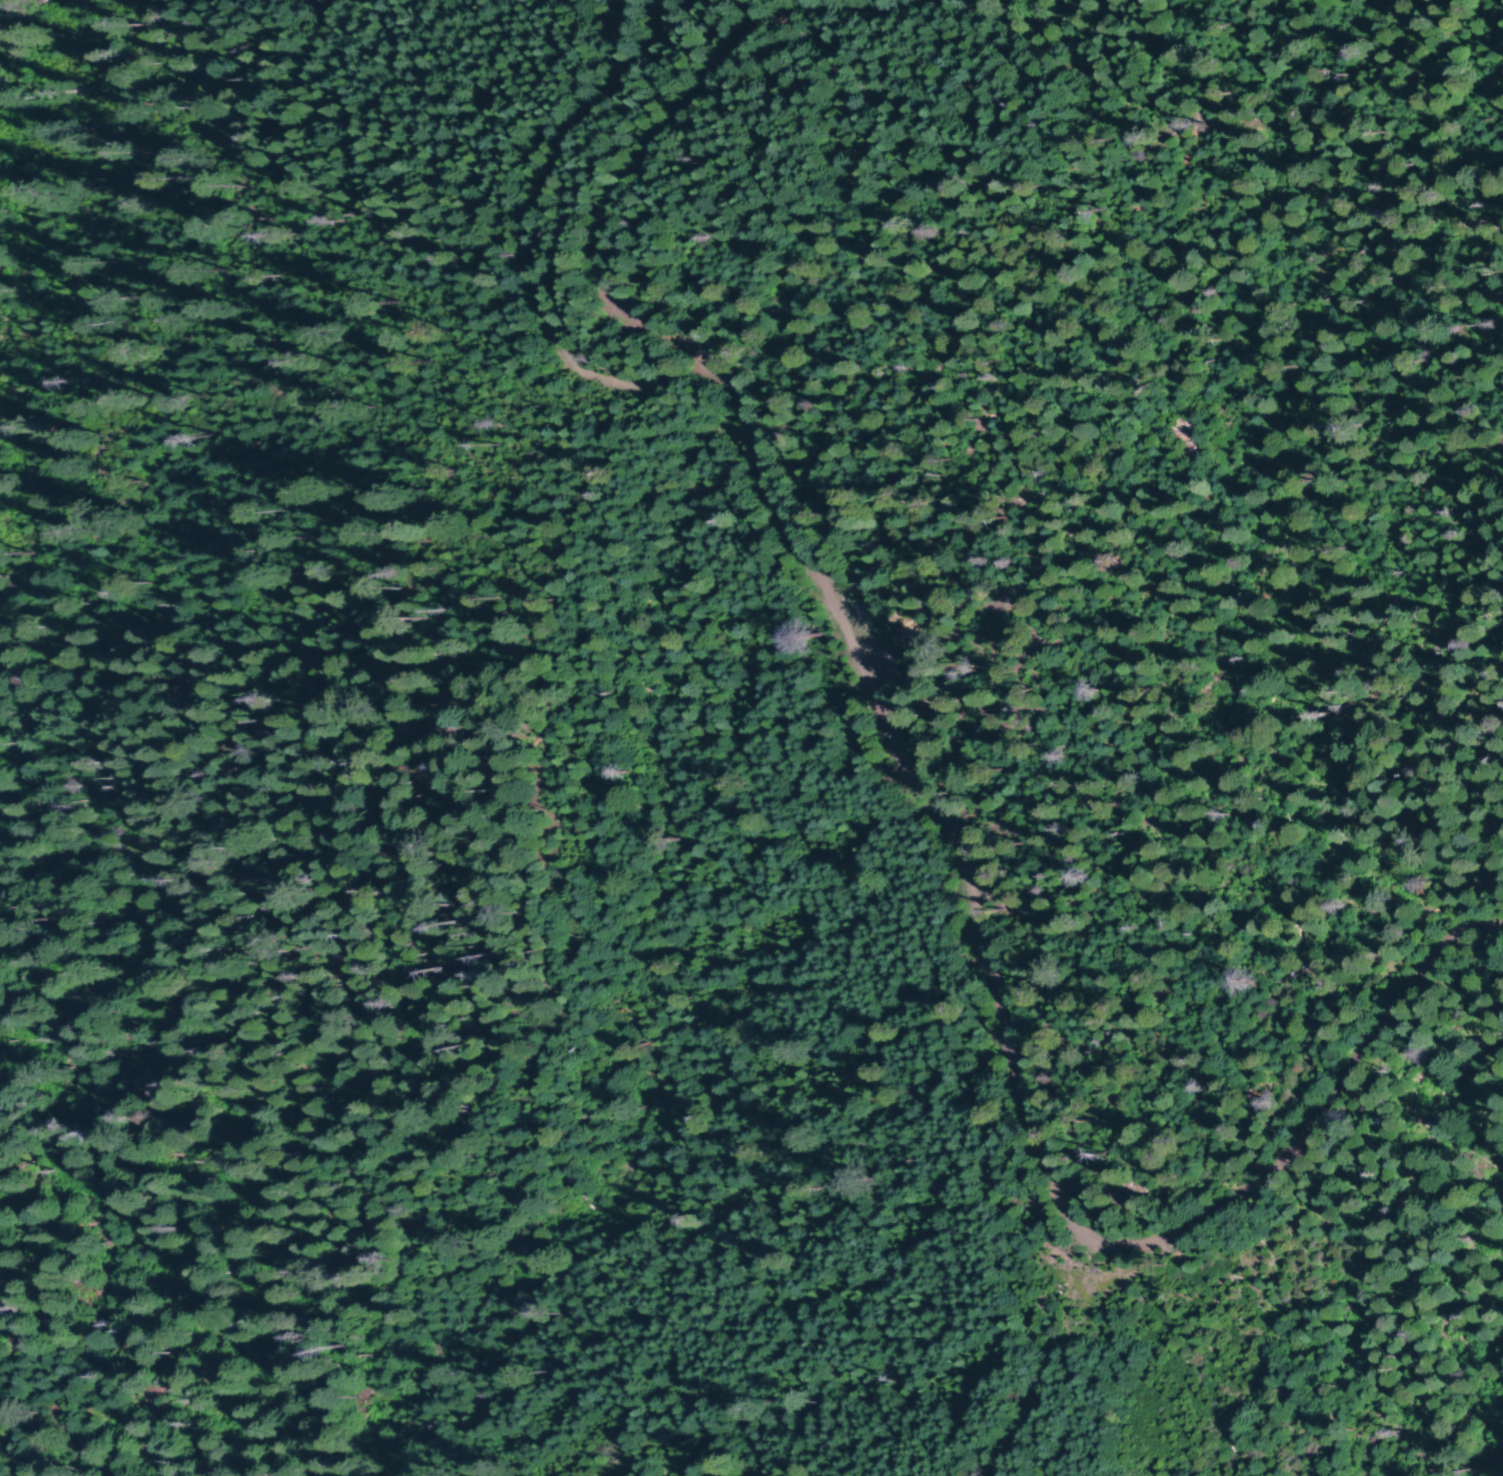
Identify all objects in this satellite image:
road: (529, 239)
road: (907, 784)
road: (12, 1451)

